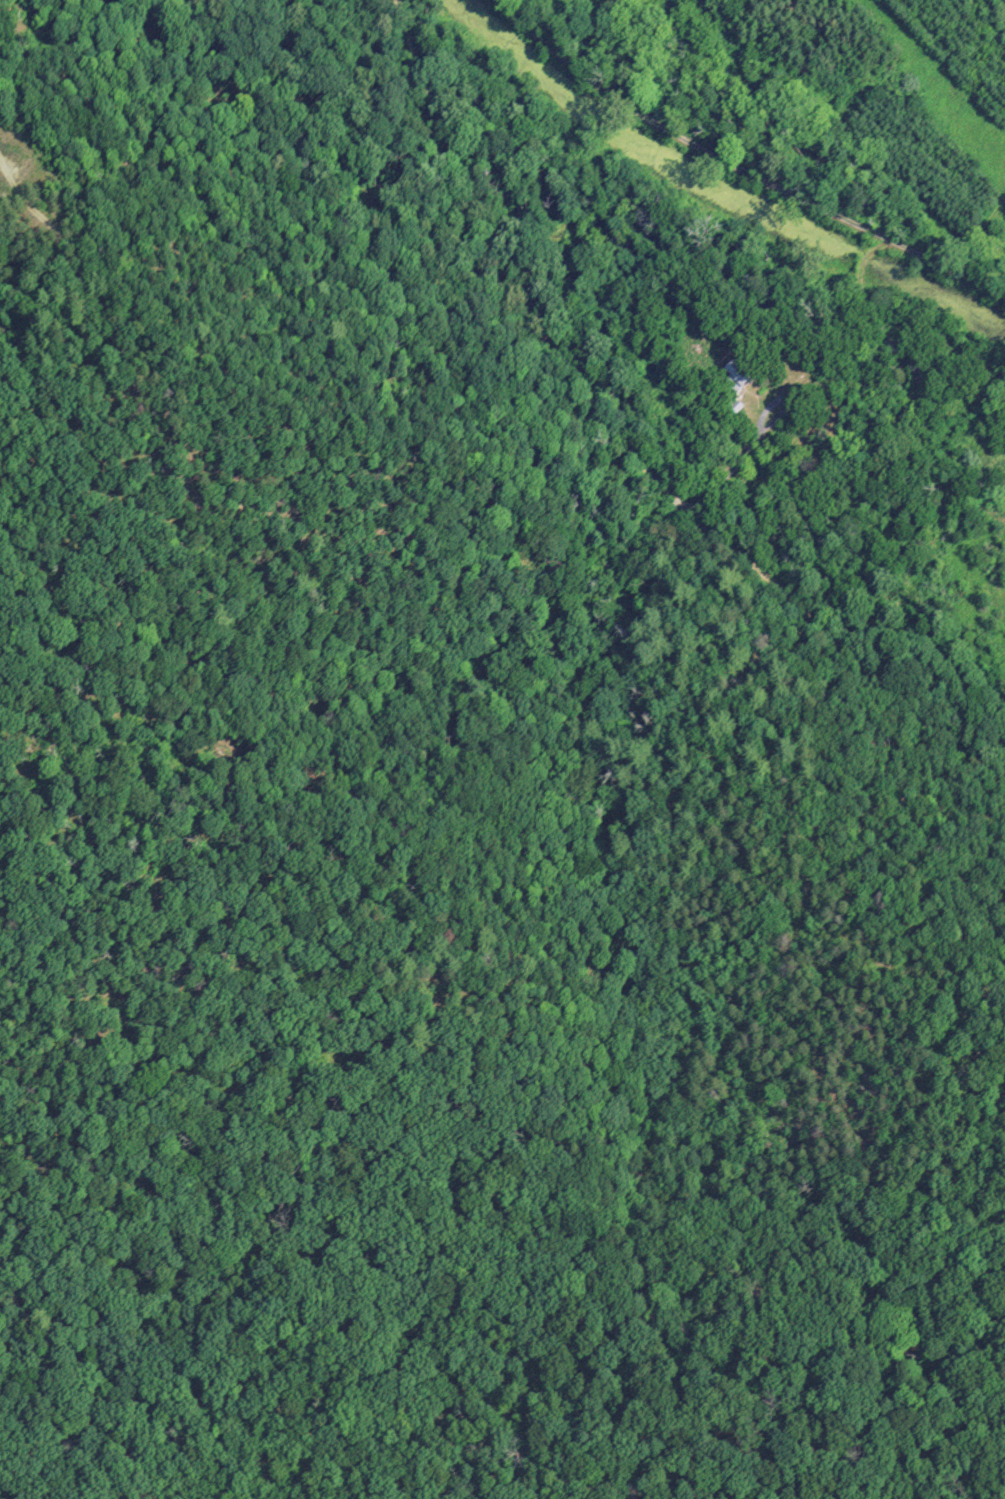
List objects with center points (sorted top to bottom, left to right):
road: (738, 169)
building: (922, 370)
building: (735, 378)
road: (793, 409)
road: (628, 449)

